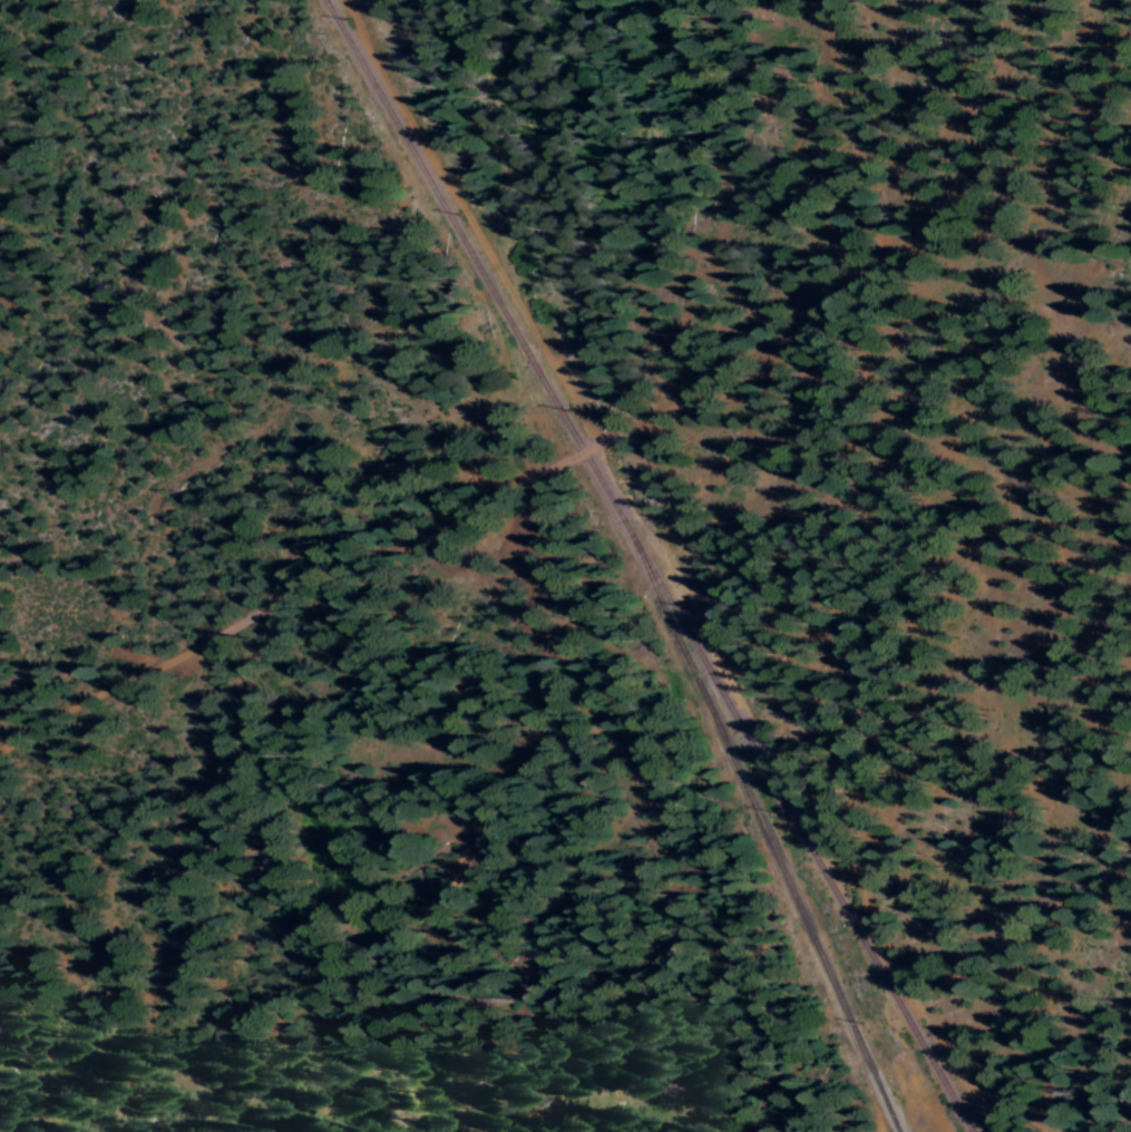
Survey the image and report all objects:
railway: (487, 276)
road: (583, 456)
road: (562, 803)
railway: (769, 843)
railway: (808, 843)

